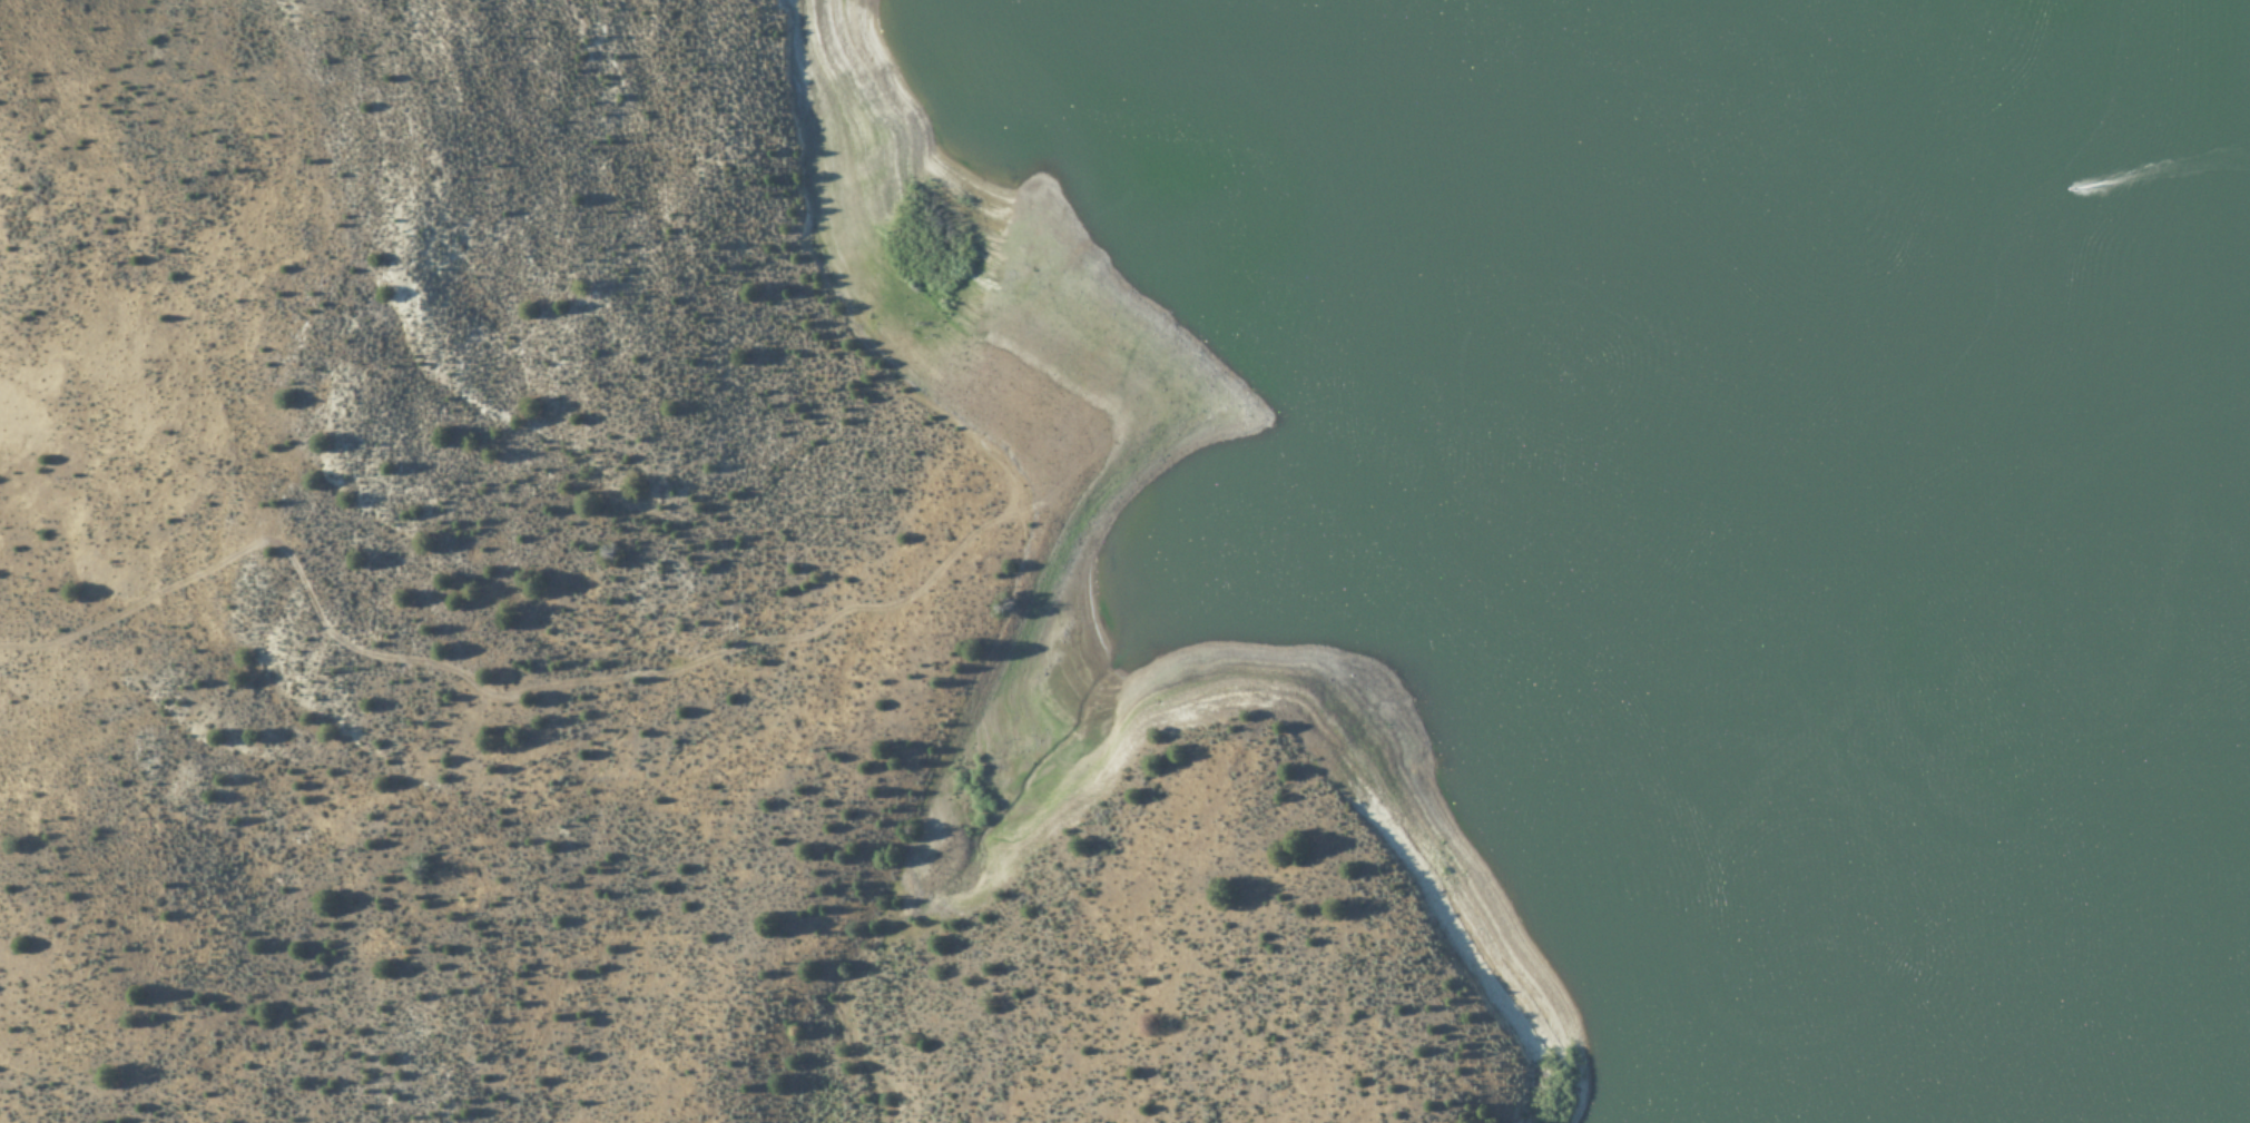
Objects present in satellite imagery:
river: (2046, 500)

